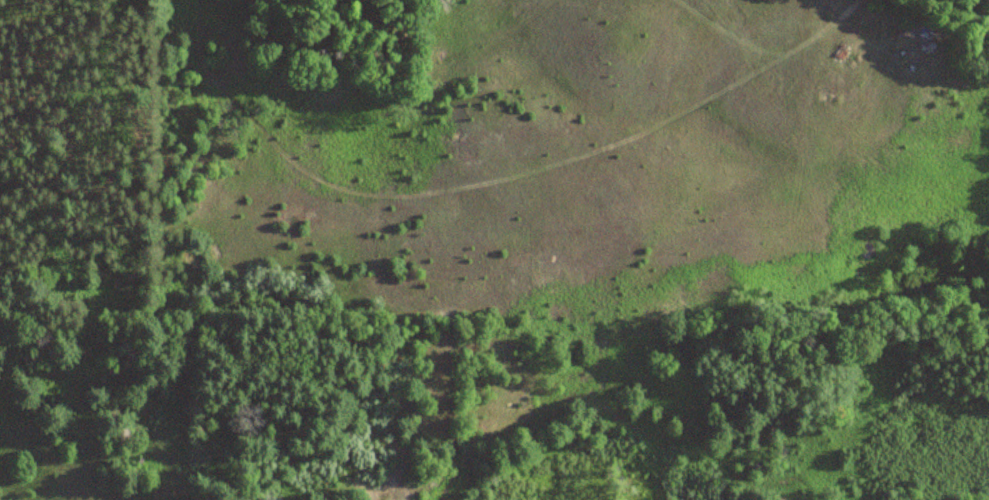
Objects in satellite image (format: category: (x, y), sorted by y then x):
building: (925, 47)

